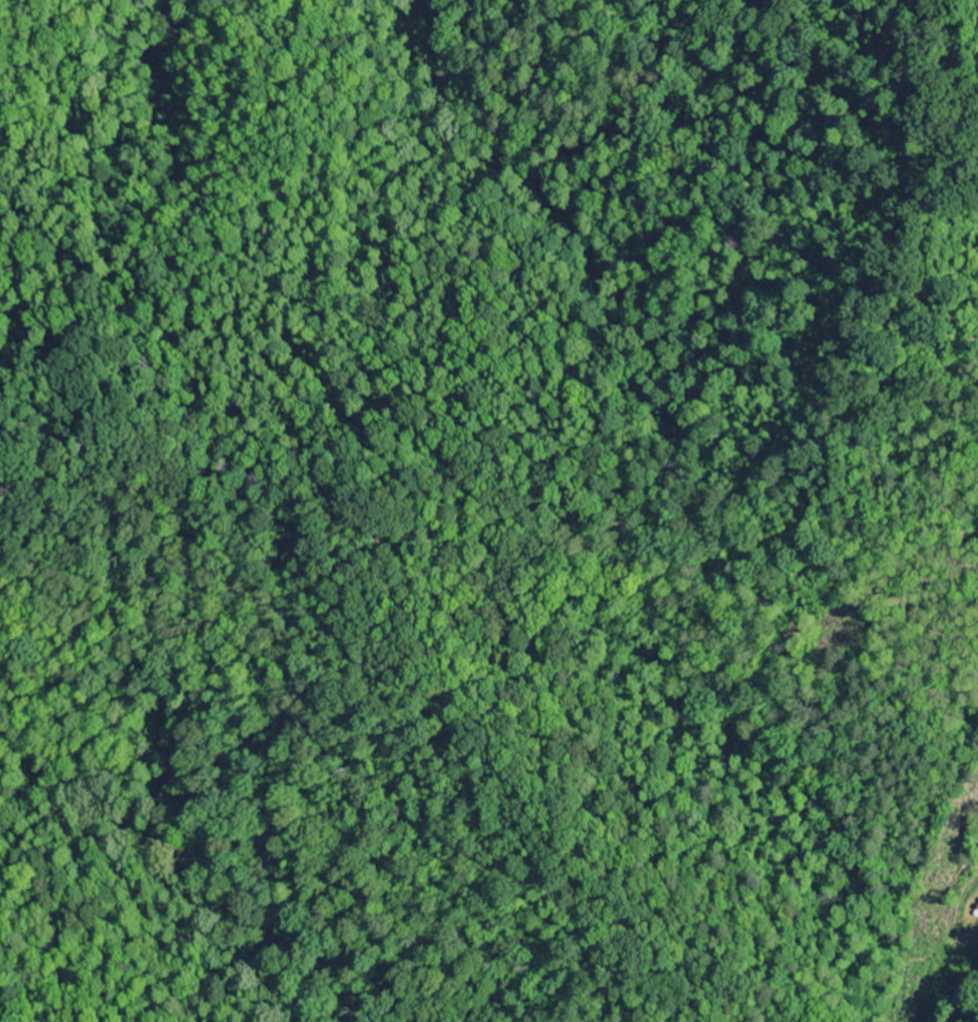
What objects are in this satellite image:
road: (853, 876)
road: (959, 998)

